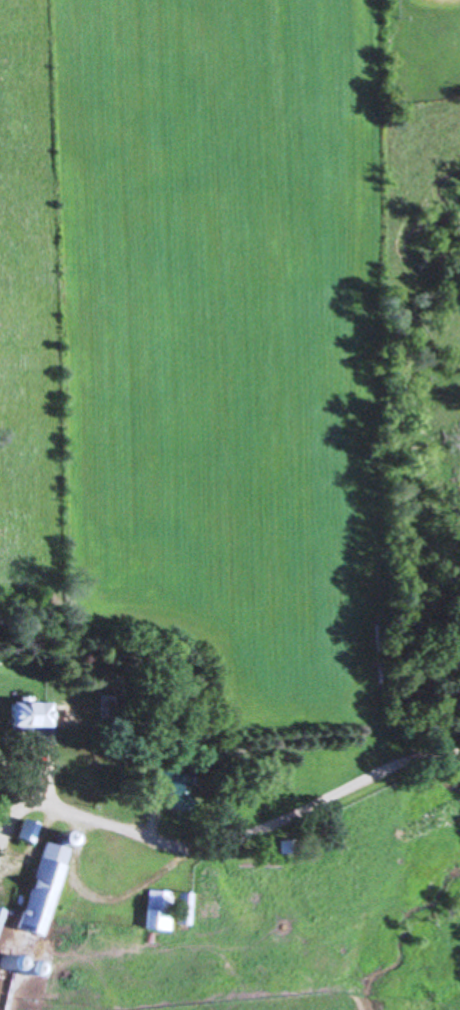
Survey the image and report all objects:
building: (22, 716)
road: (429, 755)
building: (169, 791)
building: (22, 833)
road: (196, 847)
building: (32, 898)
building: (184, 910)
building: (159, 911)

